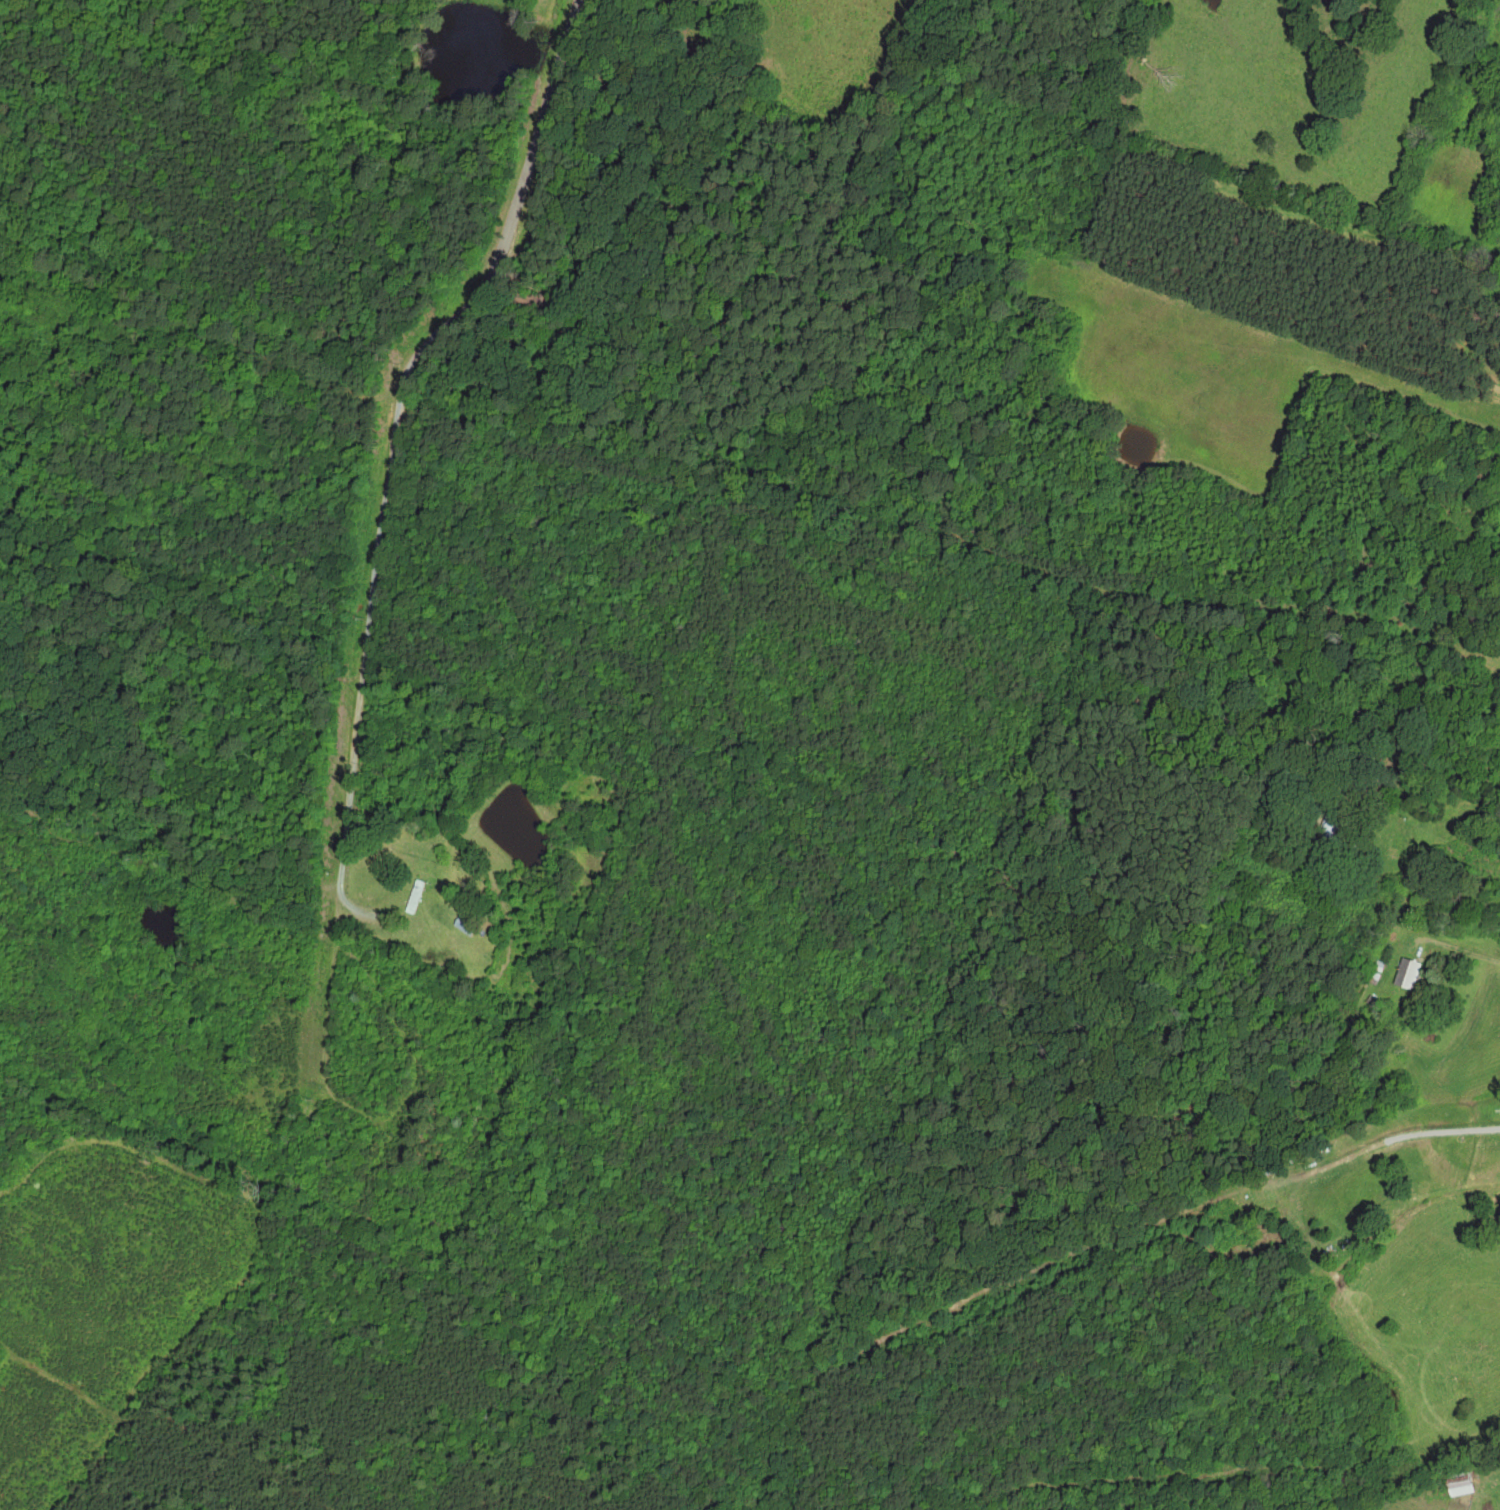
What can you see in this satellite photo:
road: (542, 128)
building: (1405, 973)
building: (1456, 1484)

